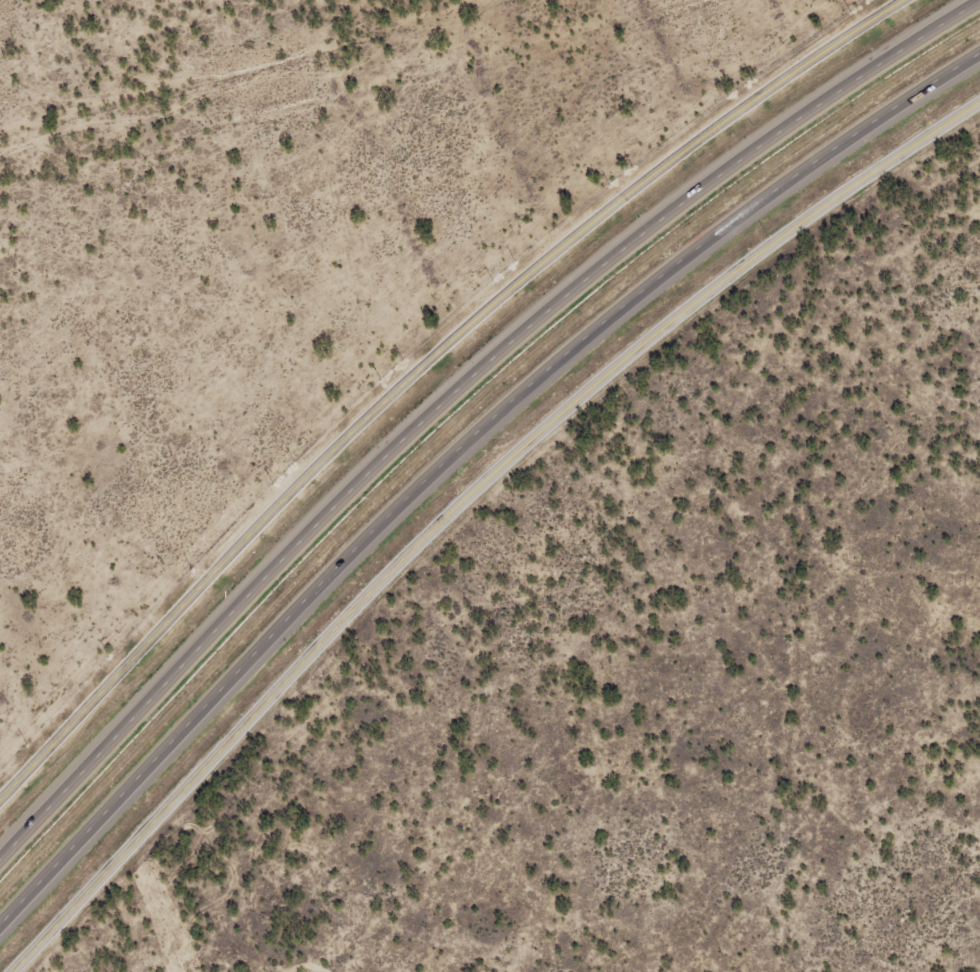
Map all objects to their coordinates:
road: (737, 107)
road: (522, 275)
road: (454, 389)
road: (456, 448)
road: (463, 500)
road: (230, 560)

